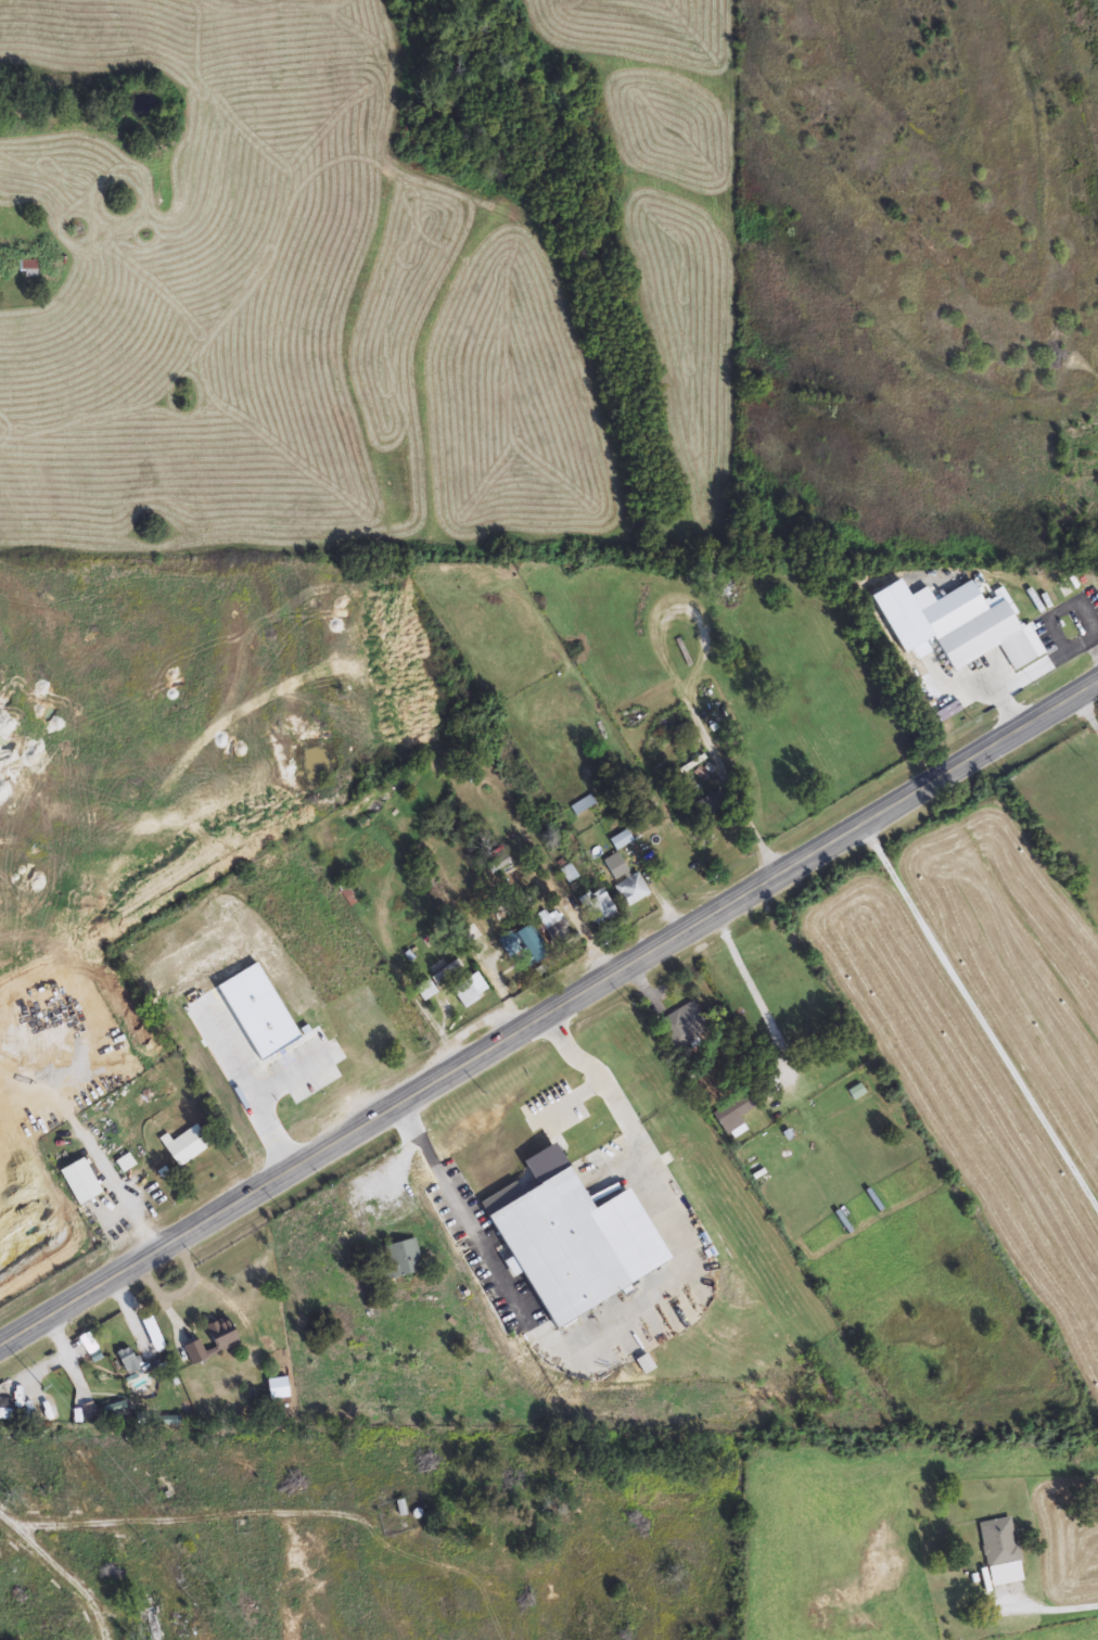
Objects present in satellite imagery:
building: (29, 269)
building: (1096, 594)
road: (1086, 717)
building: (765, 789)
building: (583, 805)
building: (621, 840)
building: (626, 881)
building: (598, 907)
building: (556, 928)
building: (531, 945)
building: (448, 971)
building: (181, 980)
road: (809, 982)
building: (470, 991)
building: (161, 999)
building: (260, 1015)
road: (982, 1015)
road: (548, 1016)
building: (682, 1027)
road: (297, 1071)
building: (319, 1072)
road: (247, 1086)
building: (857, 1092)
road: (572, 1101)
building: (737, 1110)
building: (188, 1146)
building: (80, 1182)
building: (403, 1258)
building: (469, 1312)
road: (625, 1323)
building: (213, 1342)
building: (129, 1361)
building: (446, 1363)
power tower: (44, 1387)
building: (4, 1412)
building: (401, 1509)
building: (998, 1543)
road: (62, 1567)
road: (1057, 1604)
building: (152, 1619)
building: (50, 1624)

